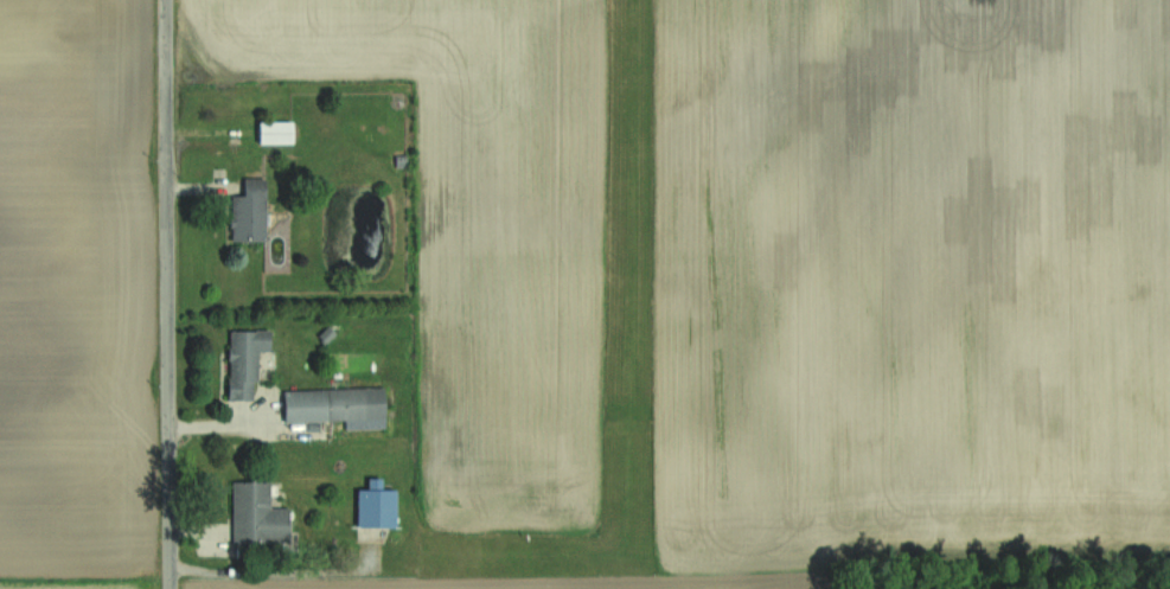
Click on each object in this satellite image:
building: (276, 133)
building: (249, 212)
road: (170, 294)
building: (244, 361)
building: (337, 405)
building: (377, 506)
building: (257, 514)

